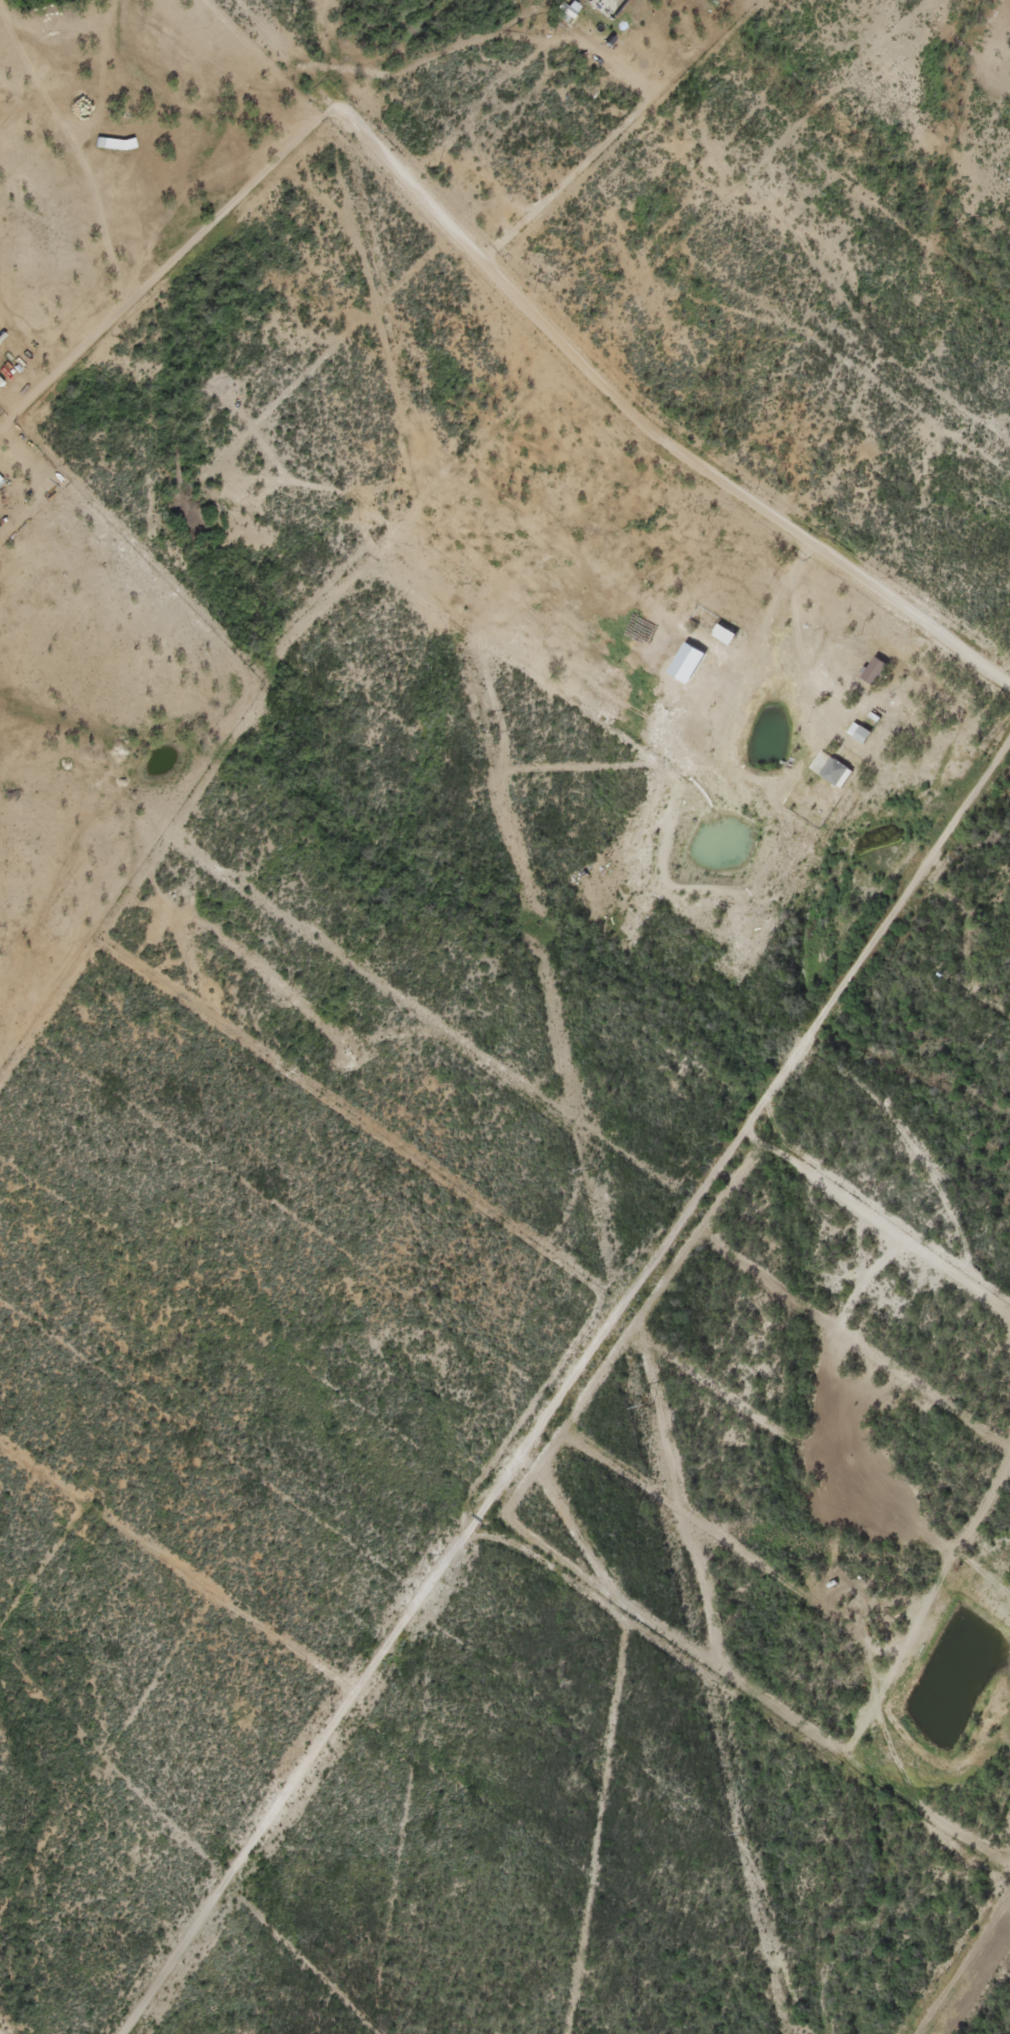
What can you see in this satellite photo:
building: (608, 5)
road: (154, 17)
building: (59, 145)
building: (108, 145)
road: (295, 156)
road: (773, 198)
power tower: (408, 368)
road: (897, 380)
building: (725, 629)
power tower: (494, 732)
building: (839, 768)
road: (729, 870)
road: (578, 1126)
power tower: (595, 1168)
road: (1000, 1262)
power tower: (646, 1407)
road: (865, 1734)
power tower: (745, 1834)
road: (902, 1935)

